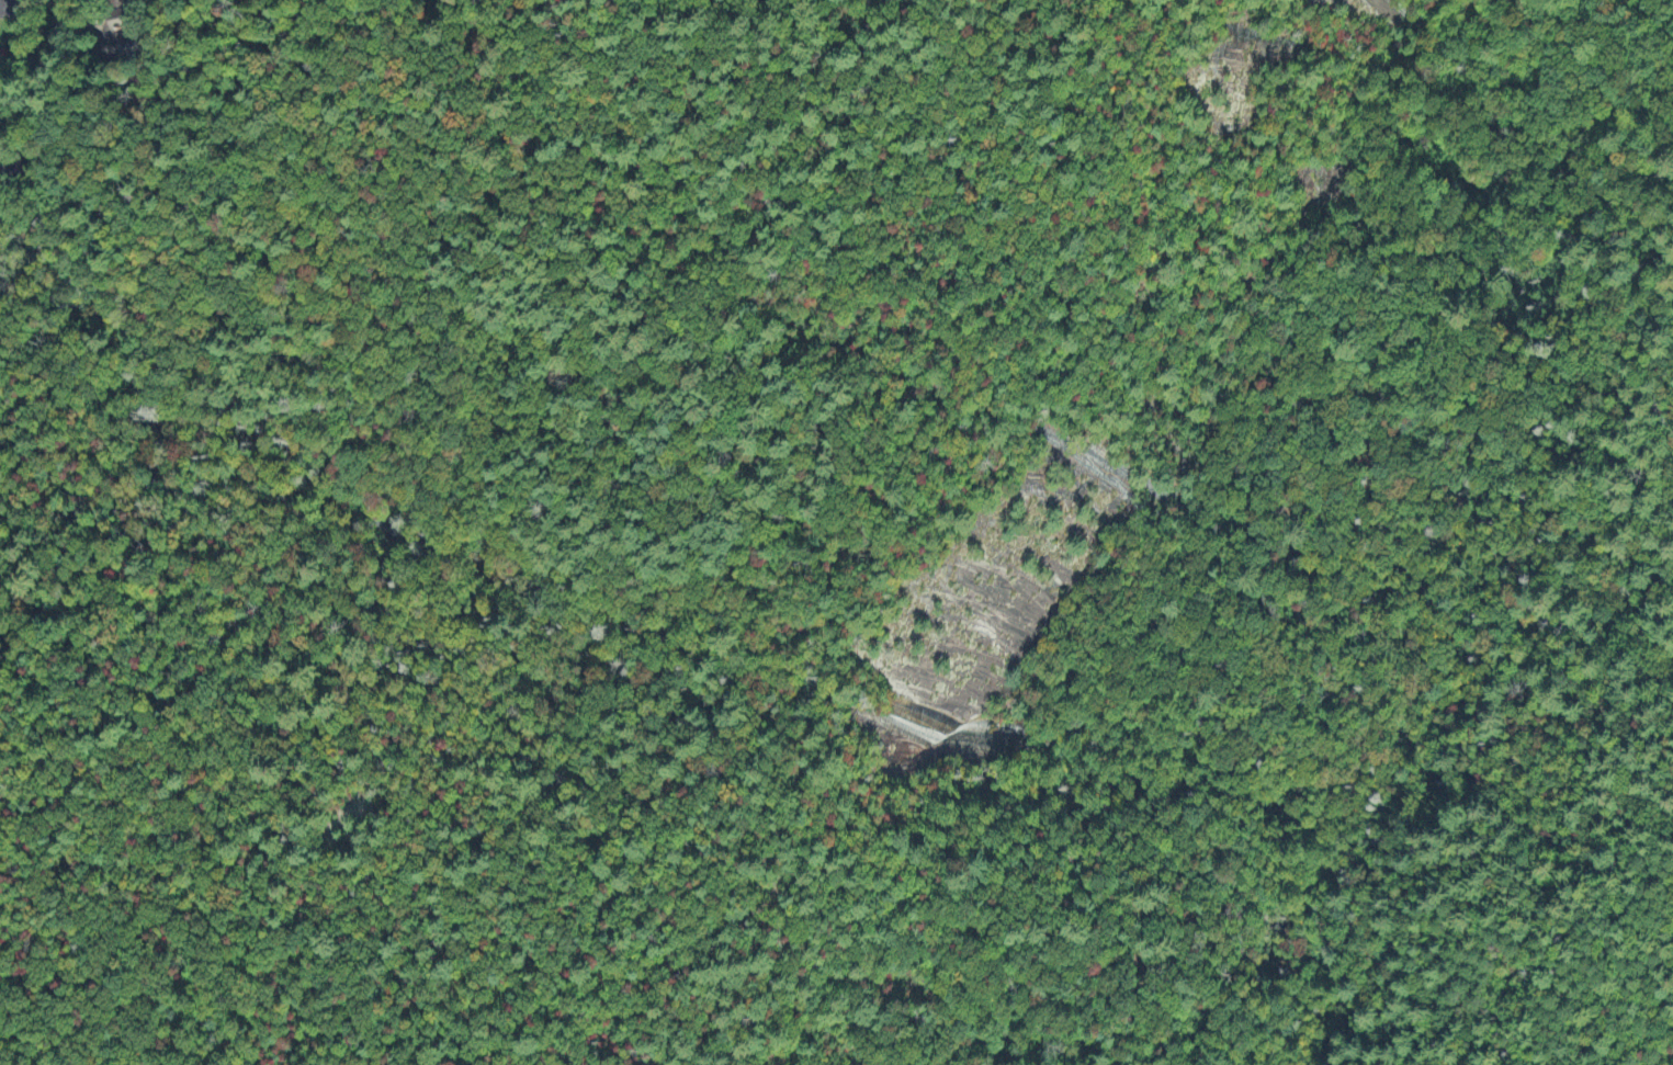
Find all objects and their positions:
building: (122, 14)
building: (126, 48)
road: (21, 56)
building: (13, 175)

